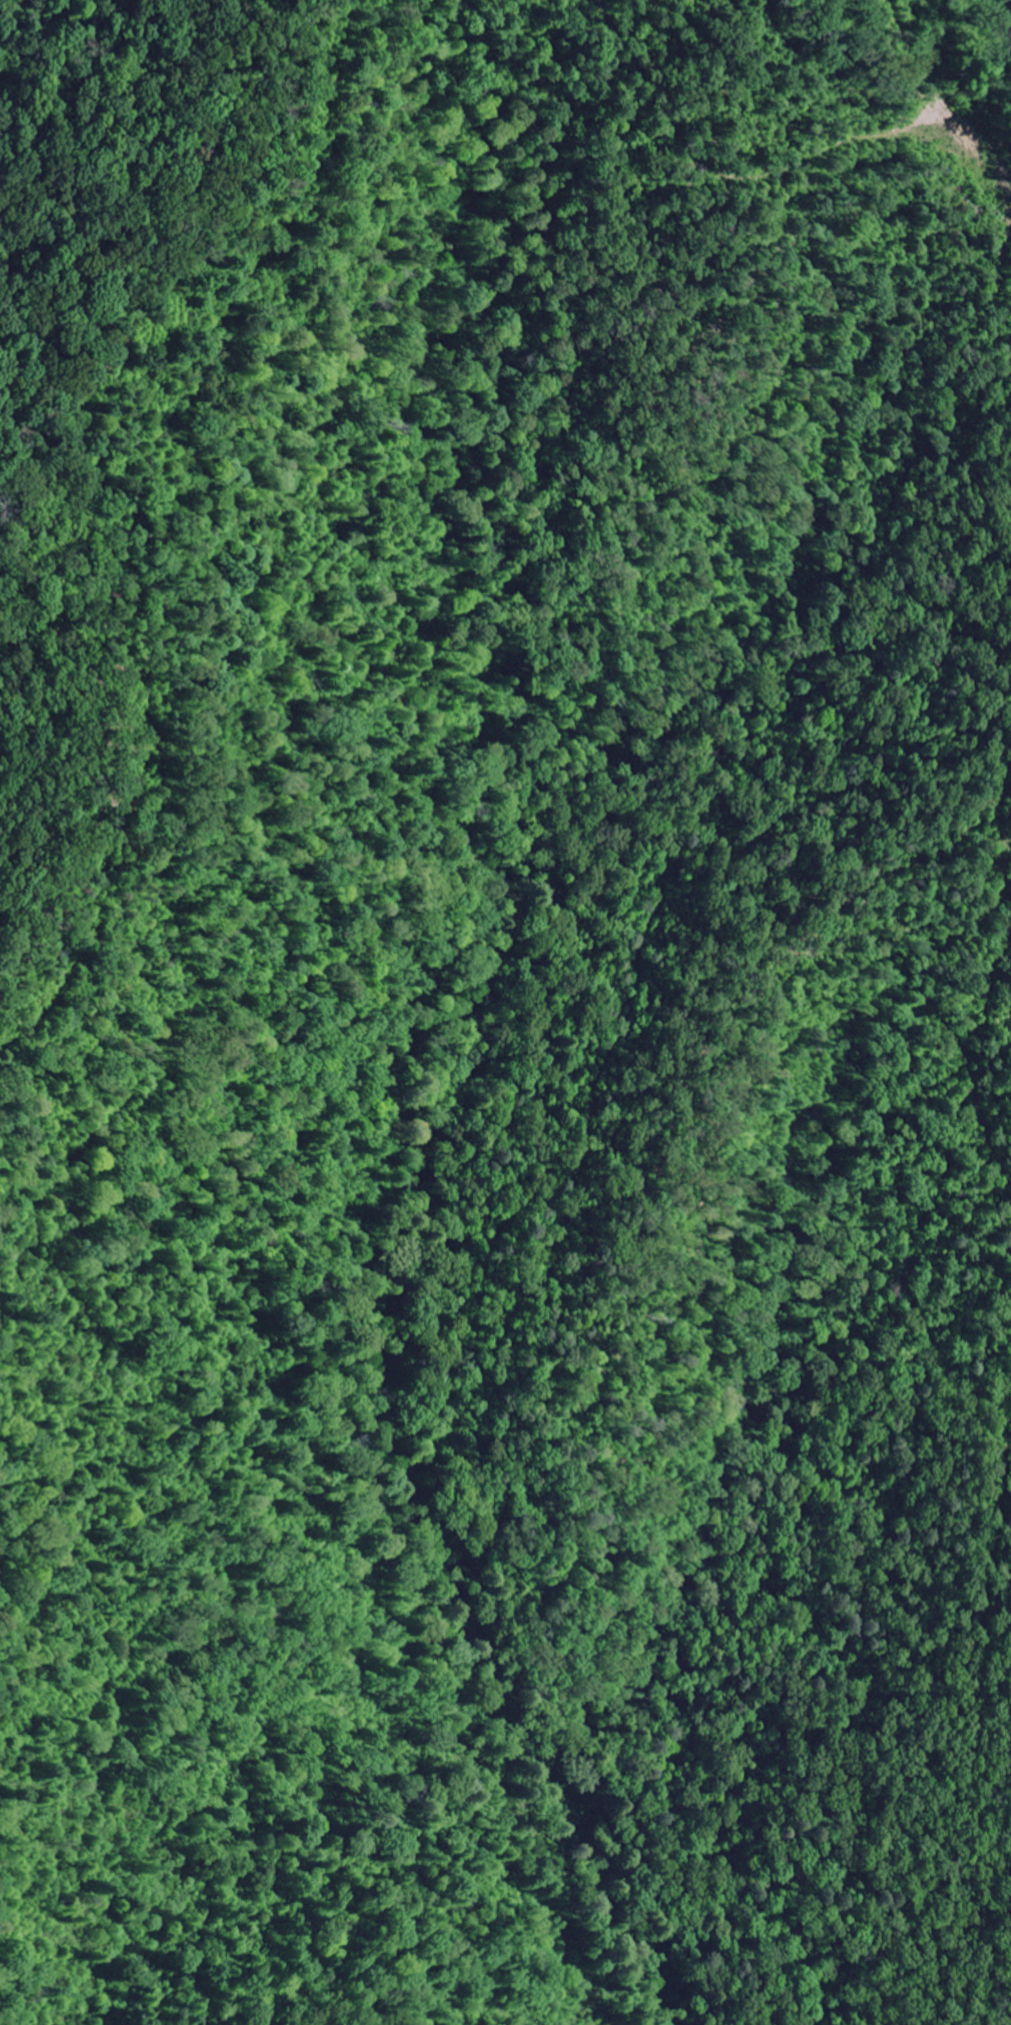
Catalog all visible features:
road: (800, 158)
road: (136, 527)

